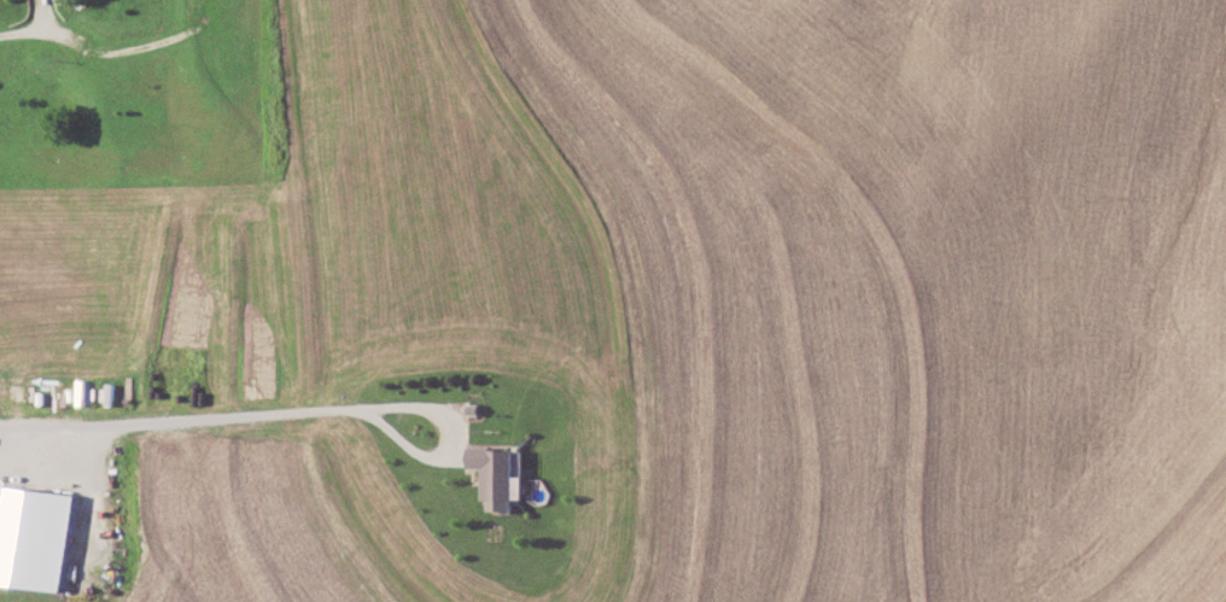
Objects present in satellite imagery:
road: (33, 33)
road: (22, 438)
building: (495, 472)
building: (35, 538)

